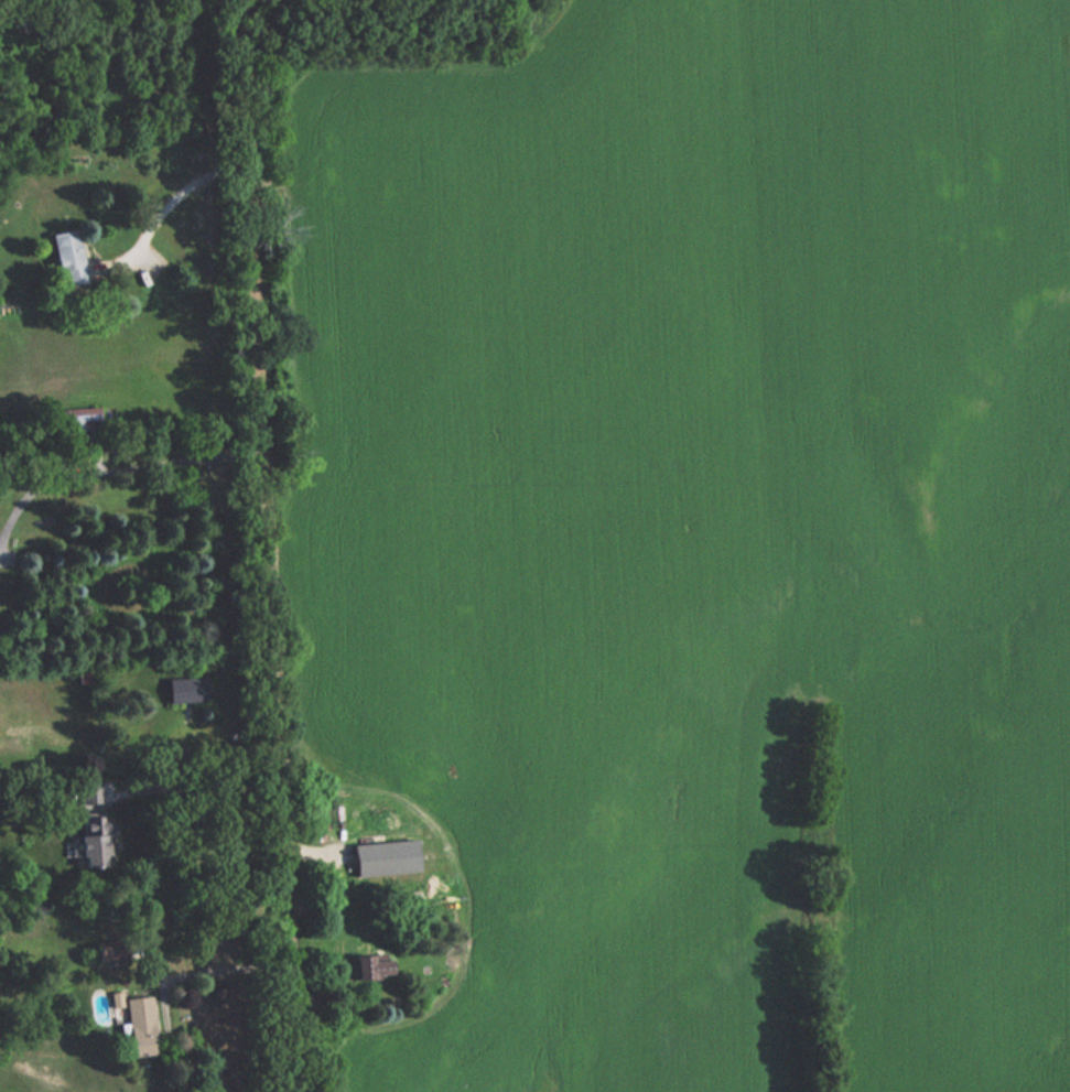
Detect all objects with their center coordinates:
road: (165, 209)
building: (66, 257)
road: (110, 473)
road: (260, 545)
building: (185, 689)
road: (191, 793)
building: (88, 840)
building: (386, 858)
building: (370, 967)
road: (213, 973)
building: (140, 1025)

